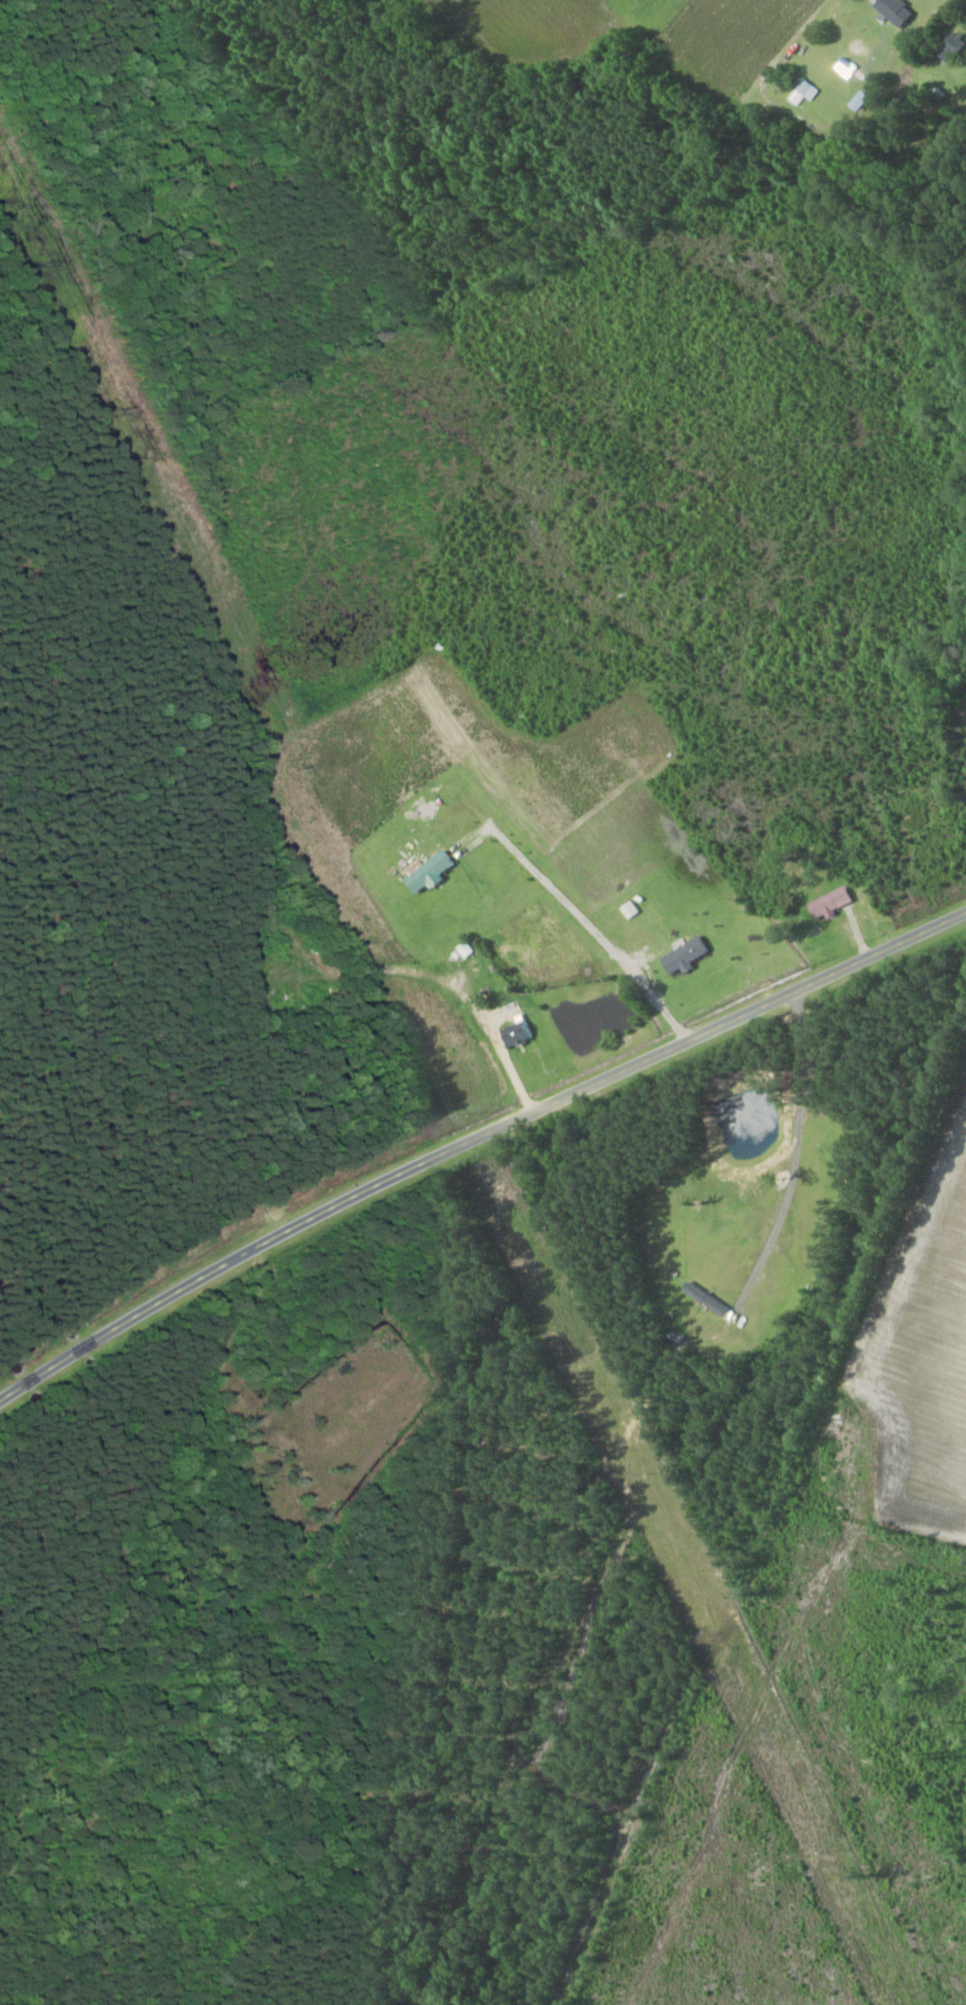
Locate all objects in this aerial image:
building: (899, 10)
building: (955, 45)
building: (433, 871)
building: (834, 902)
building: (519, 1033)
road: (473, 1138)

